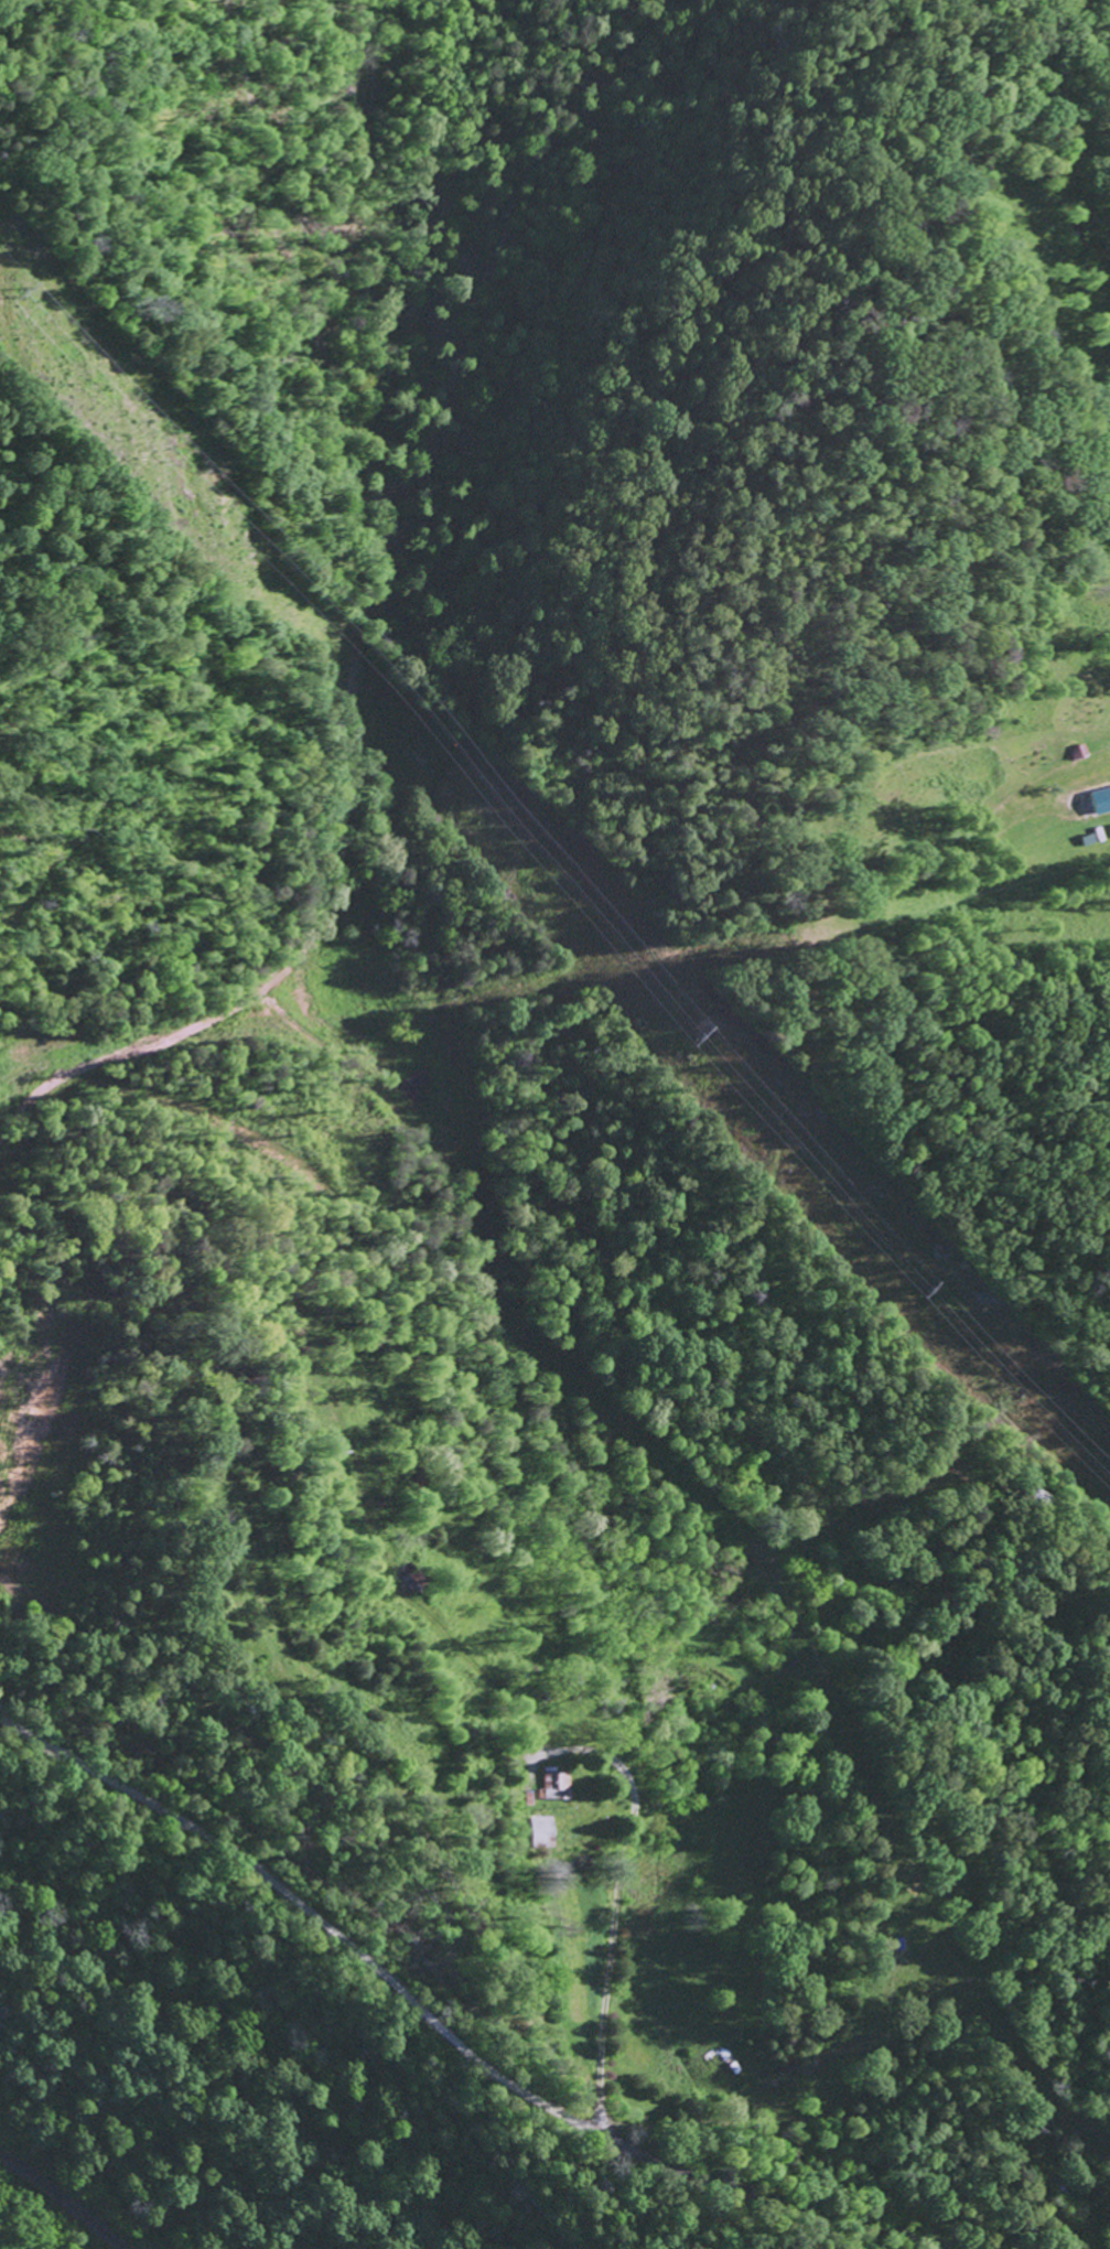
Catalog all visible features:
power tower: (30, 298)
power tower: (709, 1036)
power tower: (936, 1291)
road: (452, 1885)
road: (614, 1905)
road: (366, 1955)
railway: (63, 2196)
road: (840, 2215)

